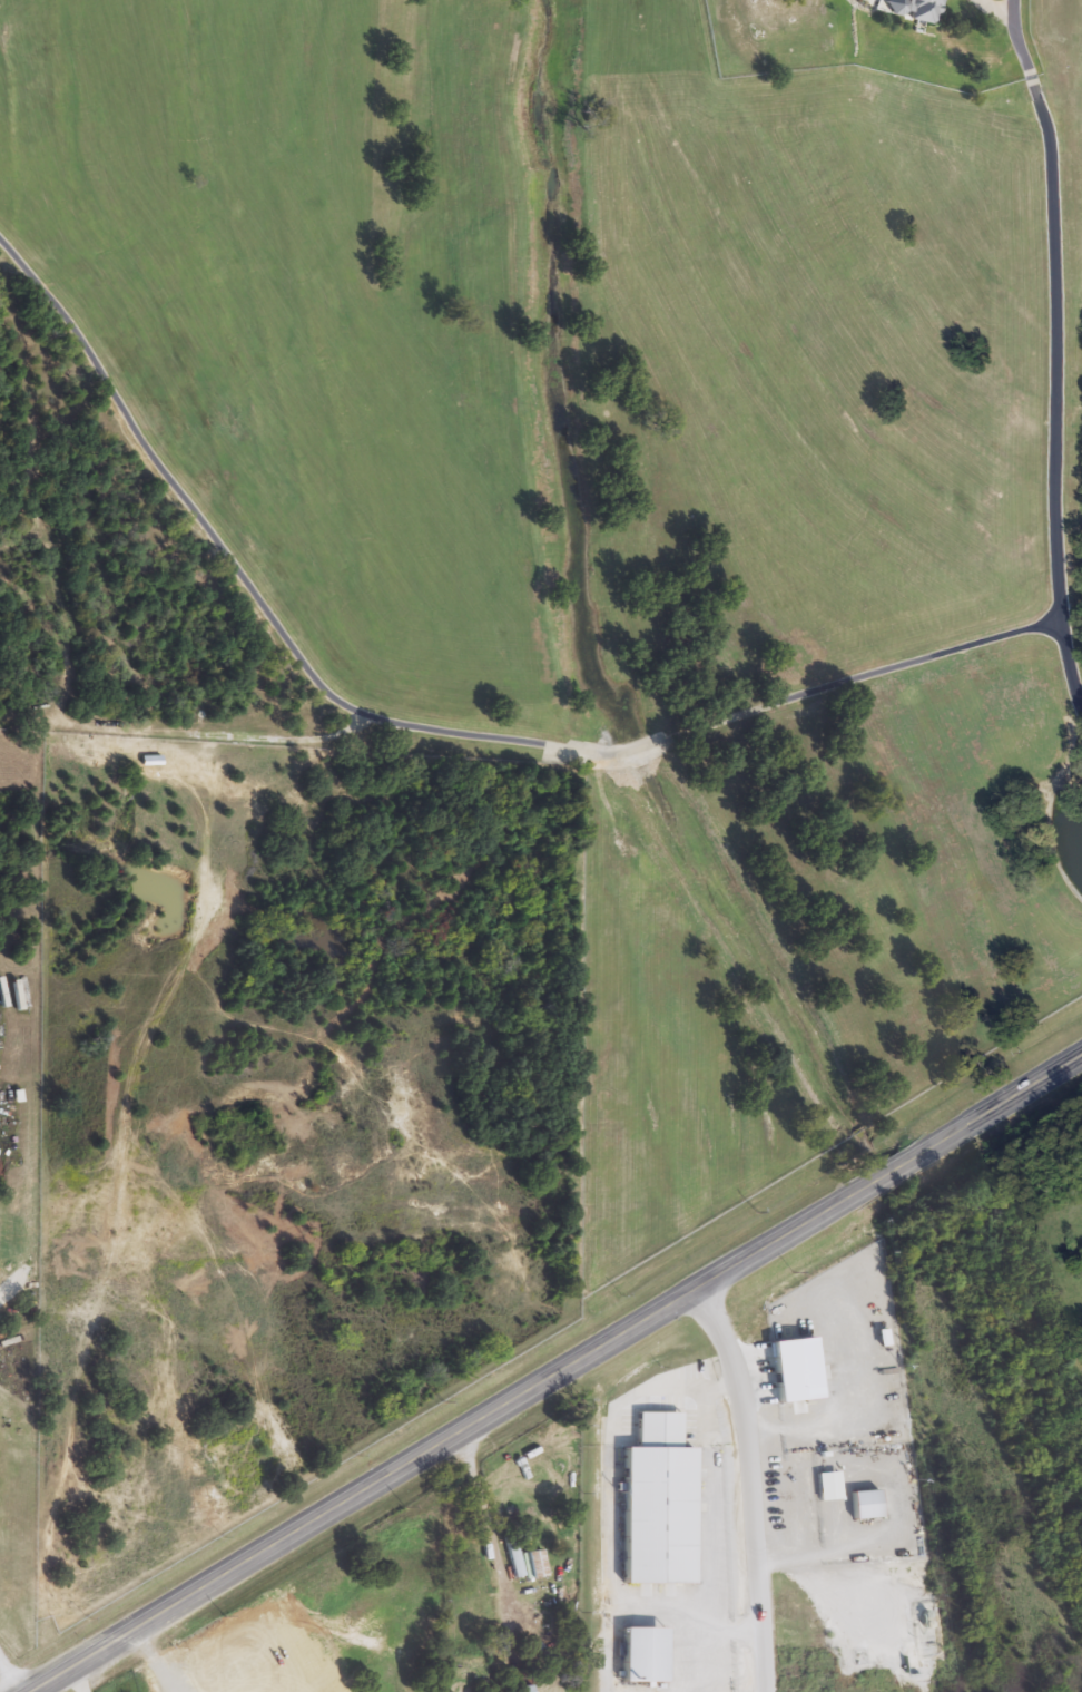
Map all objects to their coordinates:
building: (917, 10)
road: (1052, 346)
road: (158, 459)
road: (690, 730)
road: (563, 1376)
road: (749, 1488)
building: (659, 1504)
road: (491, 1539)
road: (151, 1663)
road: (9, 1676)
building: (521, 1689)
building: (197, 1690)

